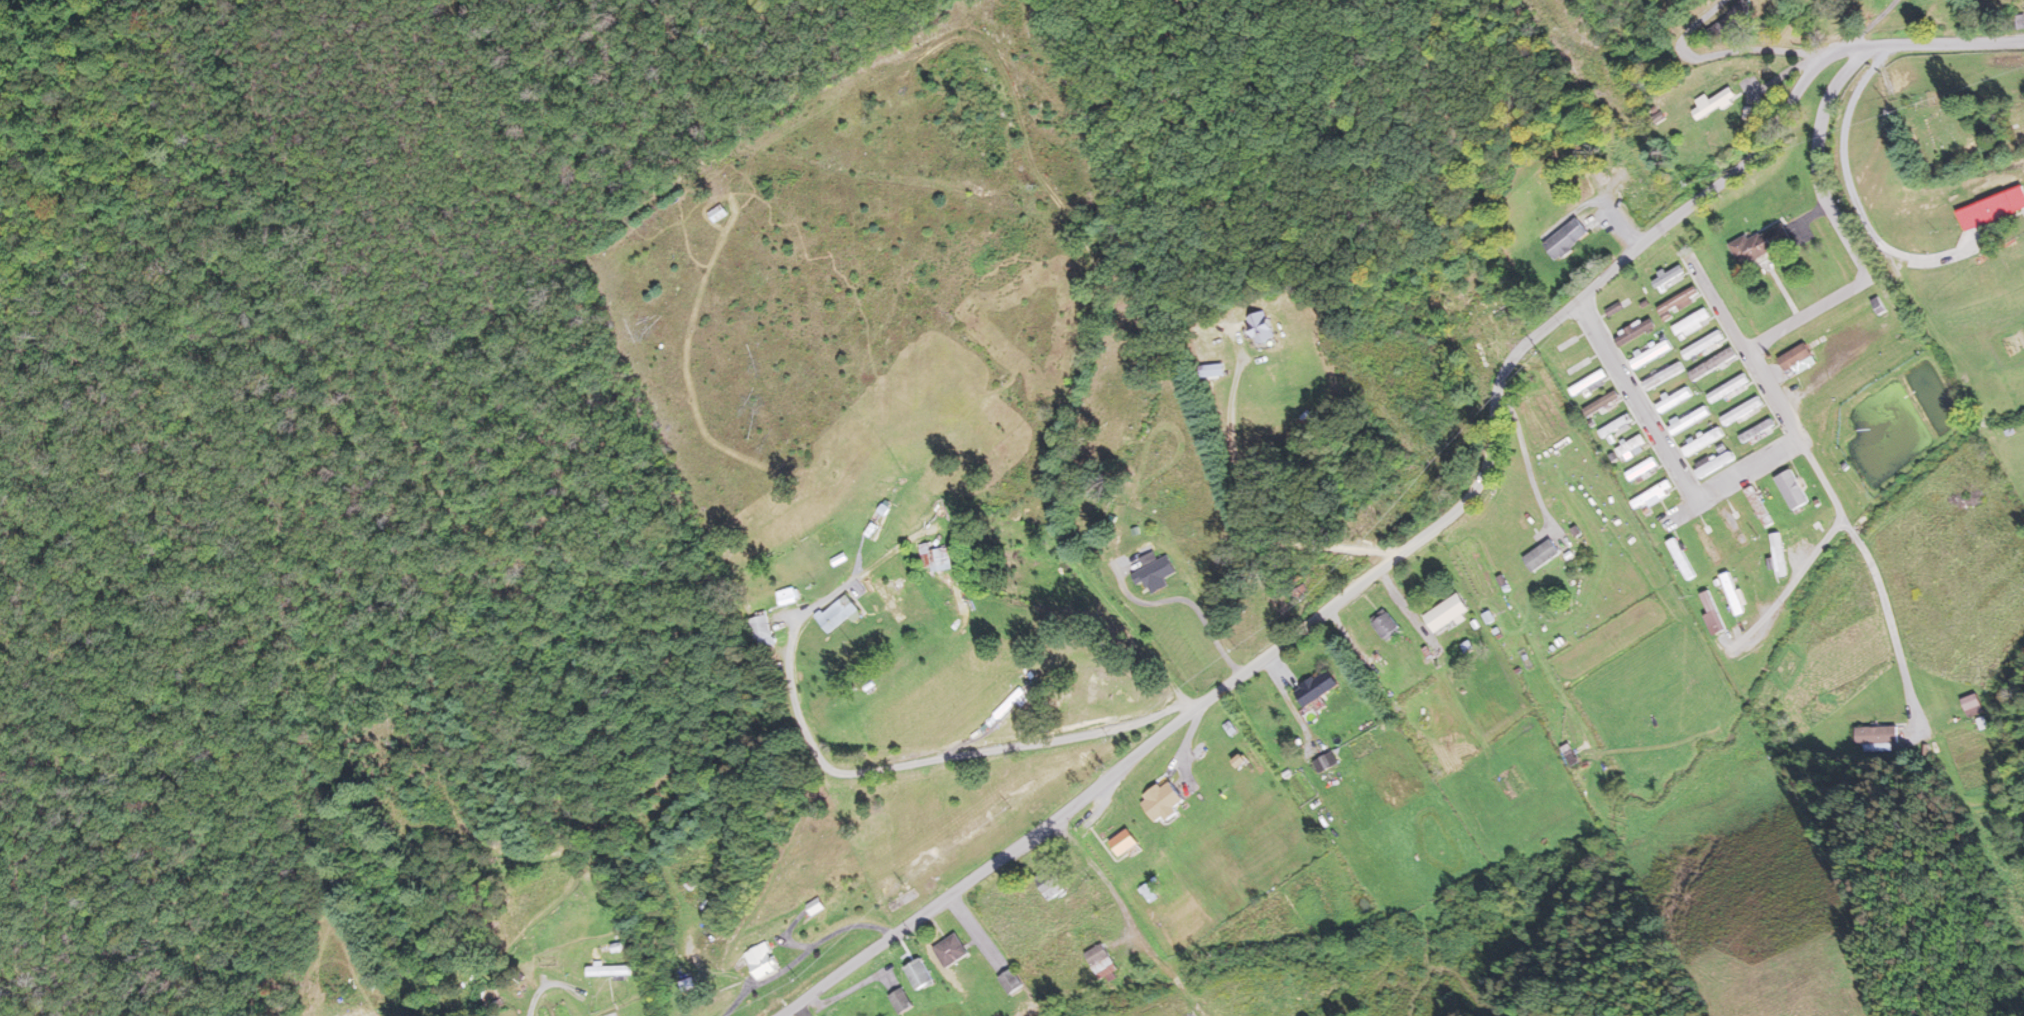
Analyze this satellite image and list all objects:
building: (2017, 21)
road: (1945, 46)
road: (1805, 51)
building: (1712, 103)
building: (1992, 207)
road: (1839, 226)
building: (1567, 238)
building: (1762, 243)
building: (1669, 277)
building: (1679, 302)
building: (1488, 309)
building: (1692, 323)
building: (1261, 328)
building: (1635, 331)
building: (1703, 344)
building: (1651, 354)
building: (1797, 359)
building: (1212, 369)
building: (1657, 371)
building: (1593, 382)
building: (1732, 387)
building: (1674, 399)
building: (1603, 404)
building: (1742, 410)
road: (1785, 417)
building: (1689, 419)
building: (1616, 426)
building: (1757, 429)
building: (1699, 441)
building: (1632, 447)
road: (1666, 453)
building: (1641, 468)
building: (1792, 489)
building: (1649, 498)
building: (1759, 507)
building: (1733, 524)
building: (1706, 541)
building: (1778, 554)
building: (1542, 555)
building: (934, 558)
building: (1681, 558)
road: (1381, 572)
building: (1151, 574)
building: (1757, 574)
road: (1791, 580)
building: (786, 596)
building: (888, 600)
building: (839, 613)
building: (1446, 613)
building: (1385, 625)
building: (763, 628)
road: (248, 636)
road: (1898, 654)
building: (1316, 687)
building: (1007, 706)
building: (1876, 735)
building: (1570, 754)
building: (1326, 762)
road: (904, 775)
building: (1162, 801)
building: (1122, 843)
building: (1049, 883)
building: (950, 950)
building: (760, 961)
building: (1101, 961)
building: (609, 970)
building: (920, 974)
building: (1010, 981)
building: (901, 1001)

